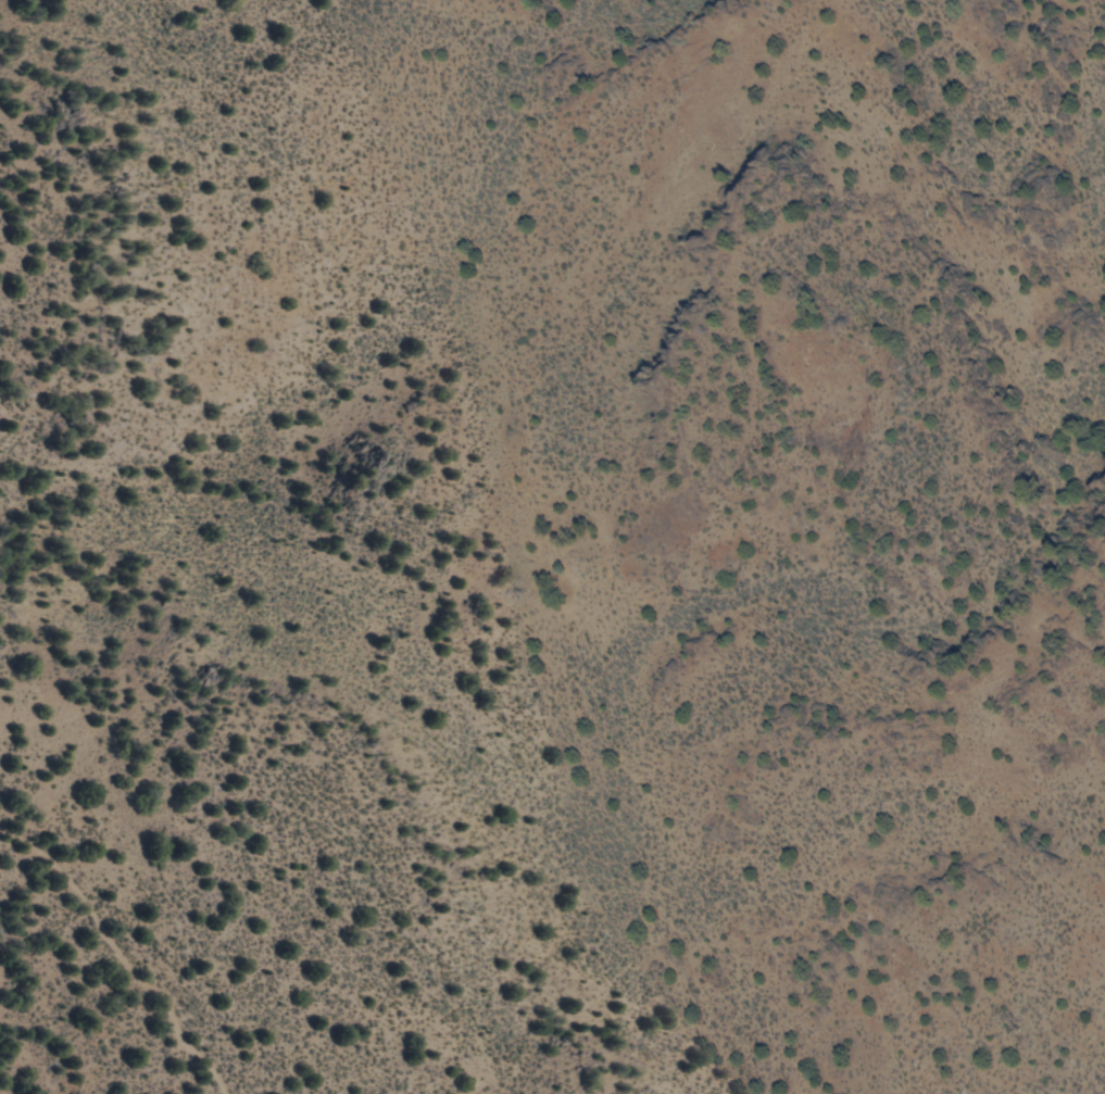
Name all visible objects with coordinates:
road: (209, 857)

